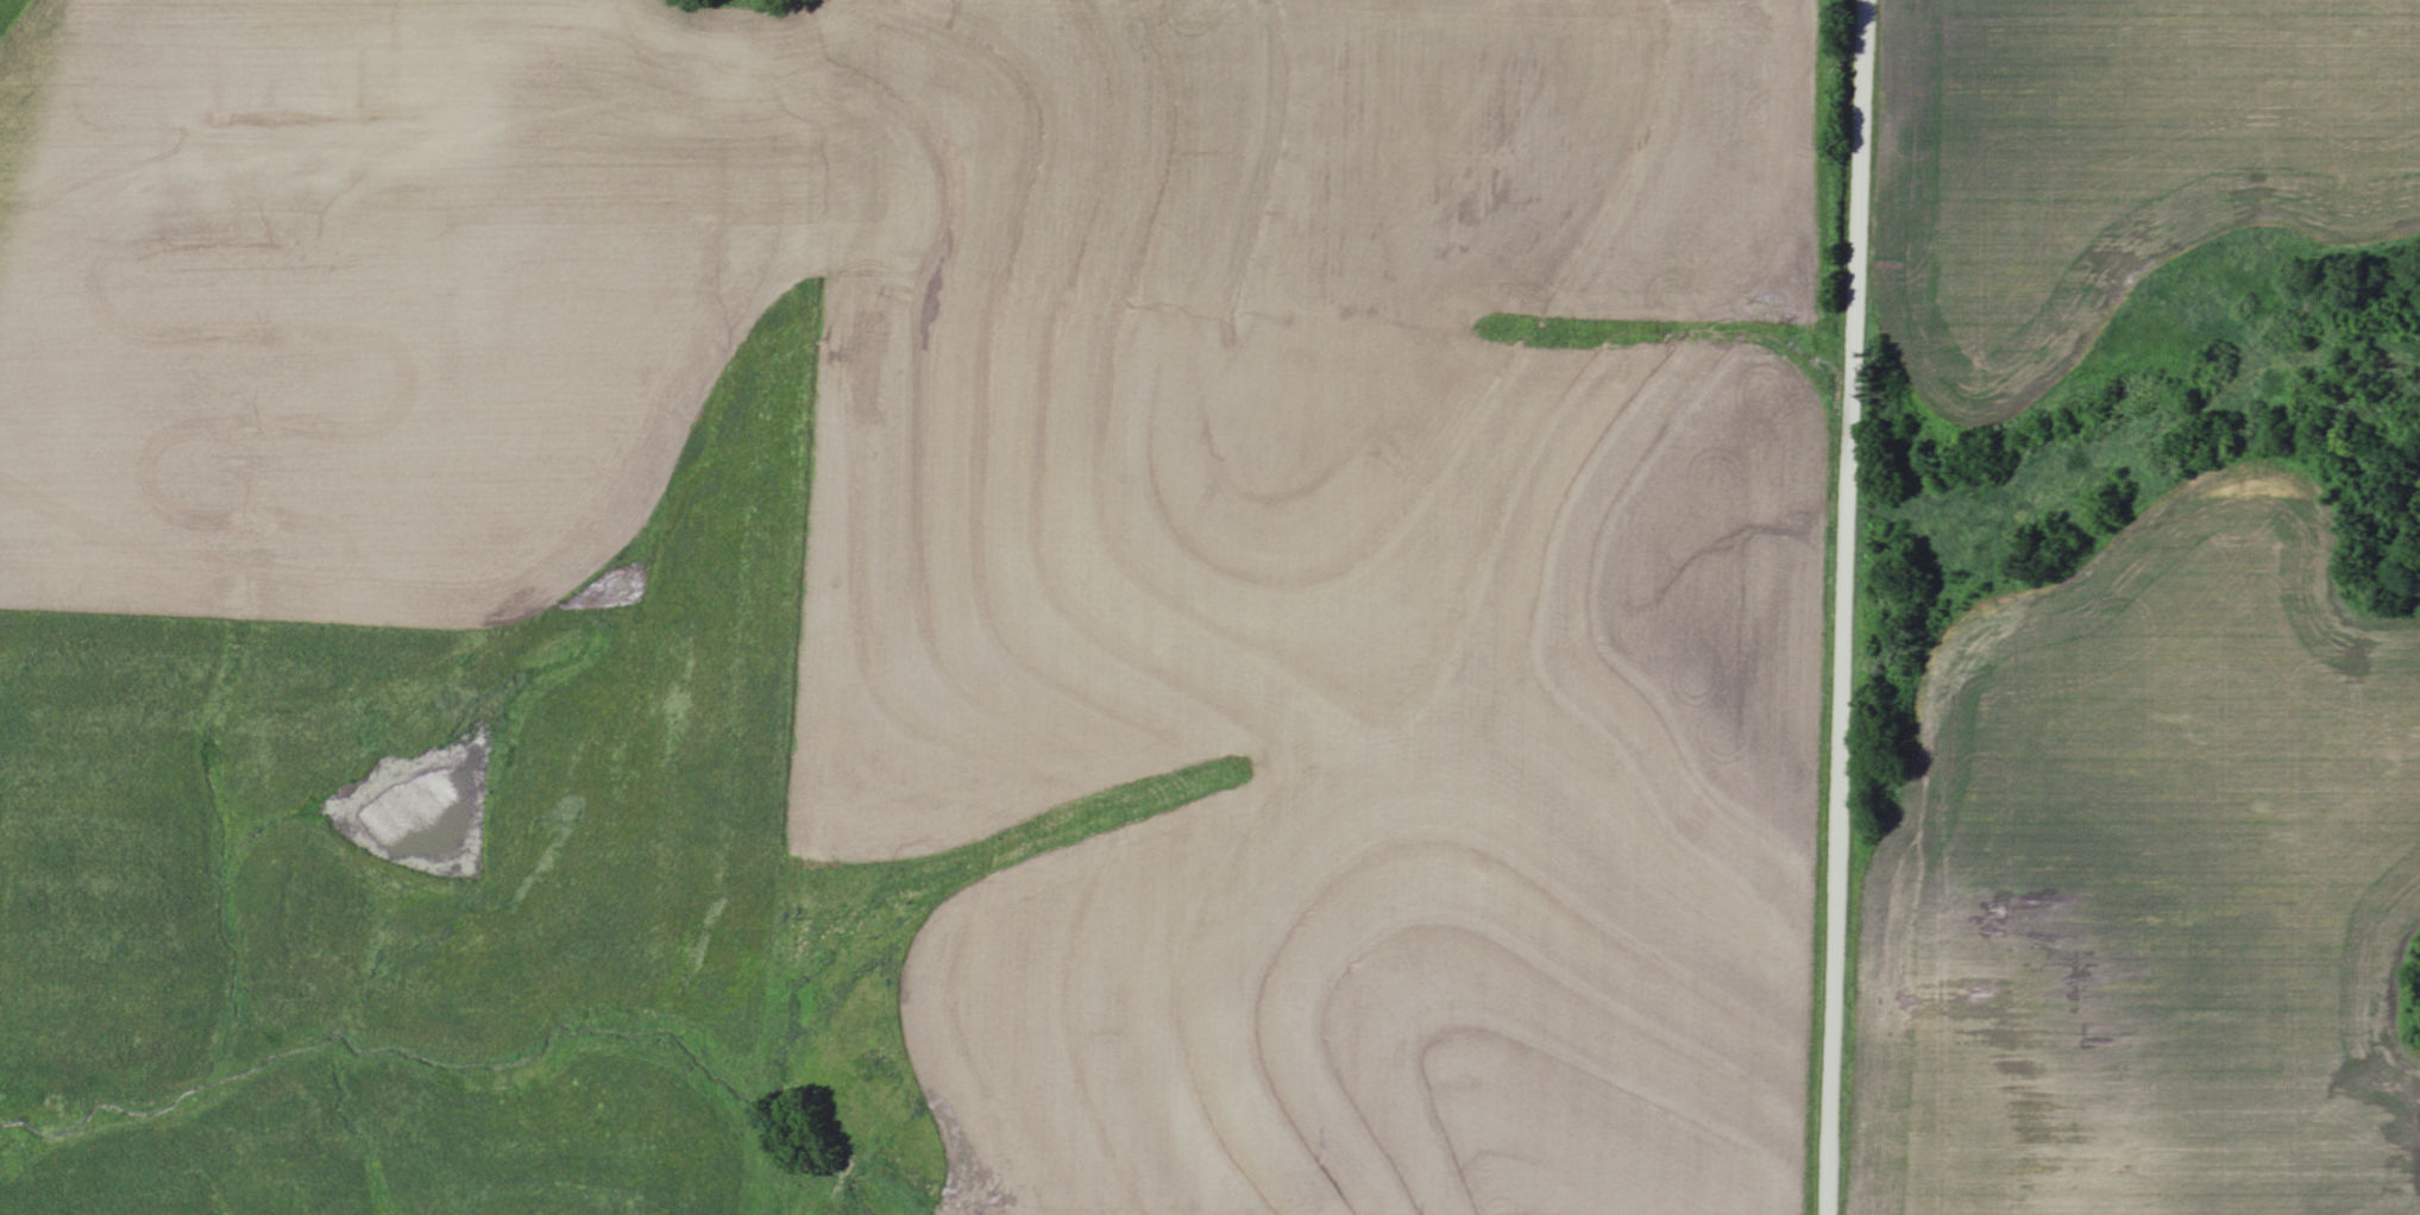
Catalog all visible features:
crop: (2110, 162)
crop: (1062, 506)
road: (1846, 607)
crop: (2150, 889)
road: (834, 1203)

